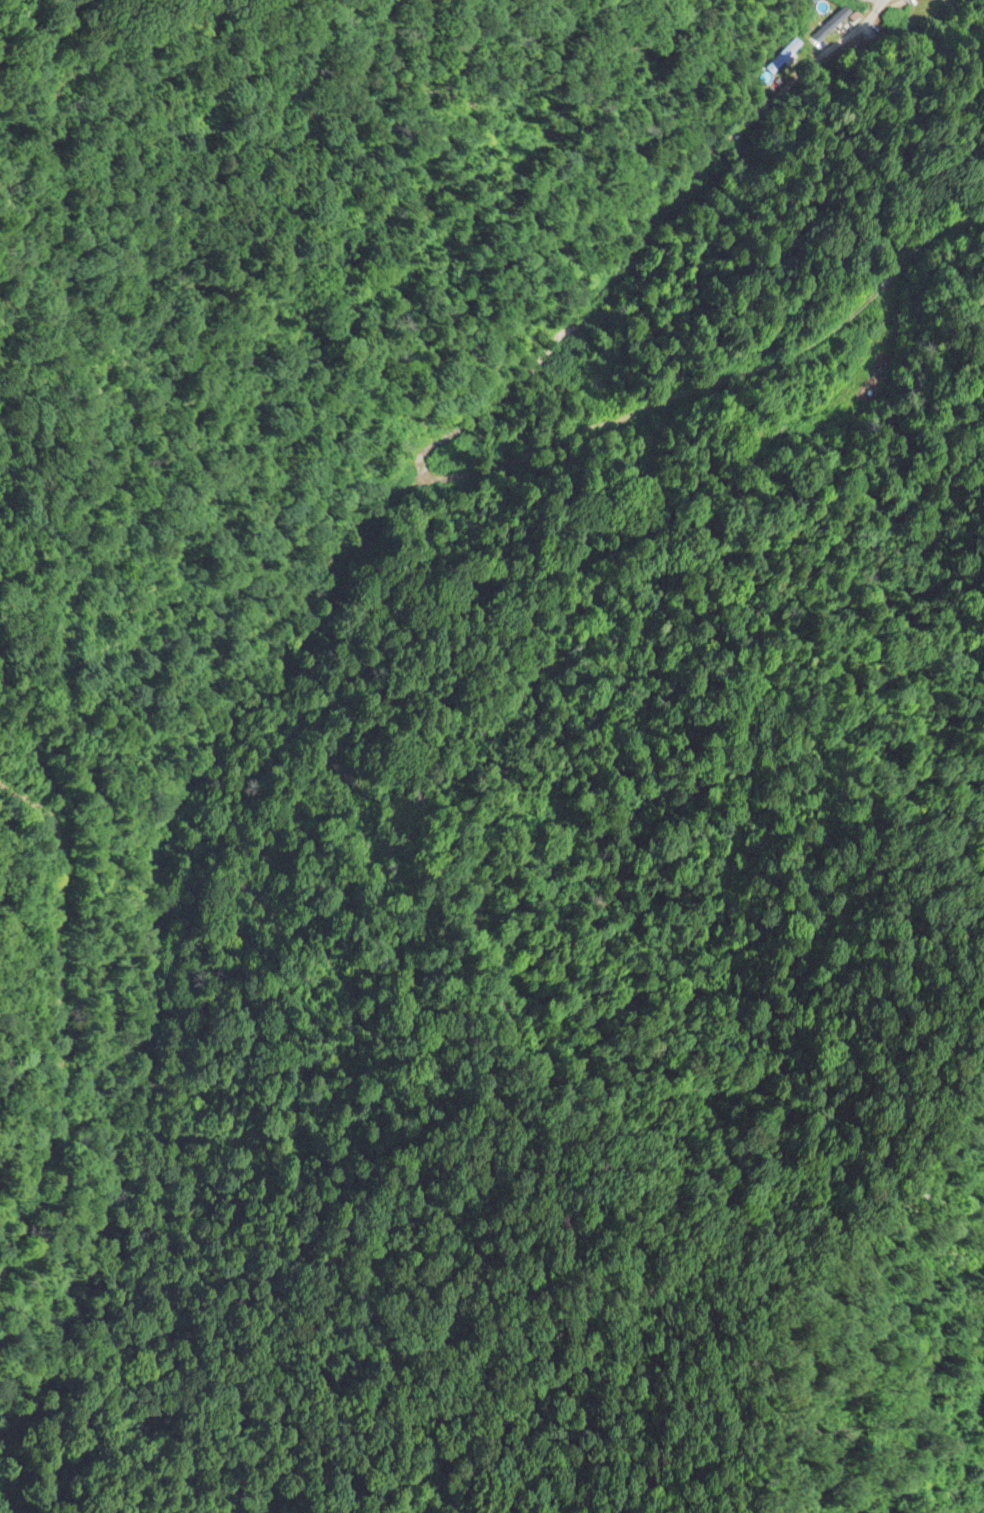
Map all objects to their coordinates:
road: (759, 15)
road: (479, 336)

